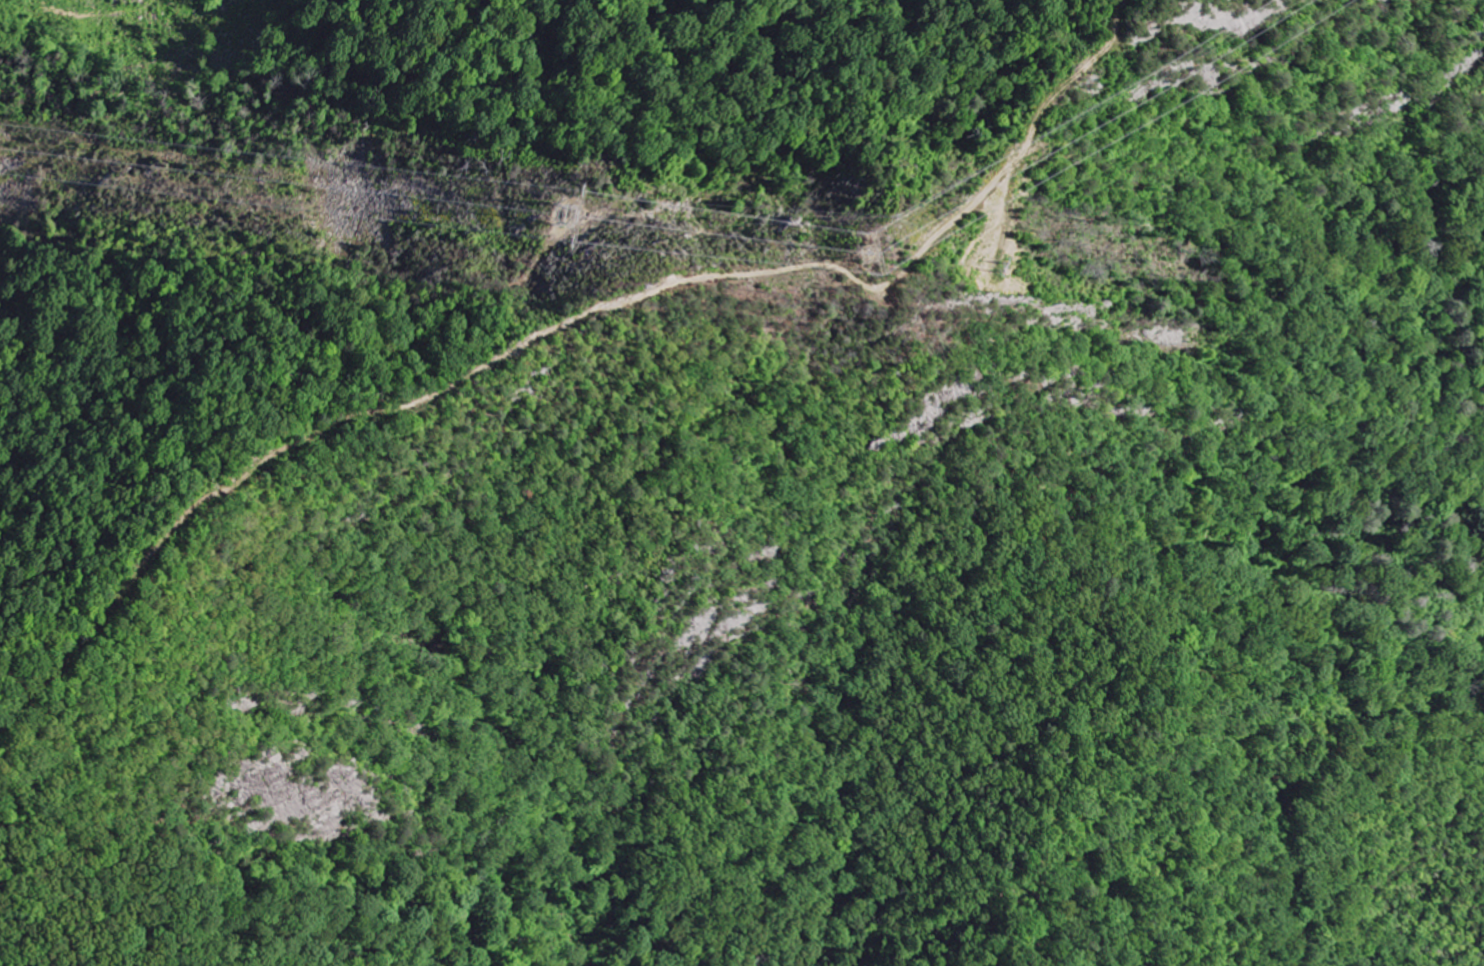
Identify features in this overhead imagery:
power tower: (570, 222)
power tower: (891, 250)

